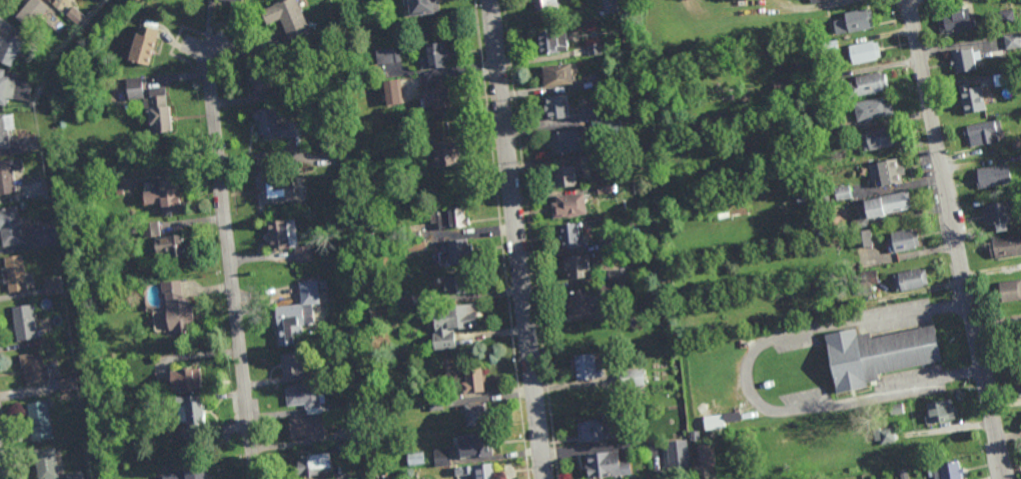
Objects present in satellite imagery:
building: (58, 0)
building: (232, 0)
building: (817, 1)
building: (546, 5)
building: (611, 7)
building: (424, 8)
building: (38, 15)
building: (75, 15)
building: (1008, 18)
building: (287, 19)
building: (854, 22)
building: (956, 22)
building: (1013, 41)
building: (552, 42)
building: (145, 43)
building: (831, 45)
building: (9, 48)
building: (595, 49)
building: (865, 52)
building: (437, 55)
building: (388, 56)
building: (965, 61)
building: (57, 64)
building: (558, 75)
building: (1001, 80)
building: (264, 84)
building: (867, 85)
building: (134, 87)
building: (784, 88)
building: (7, 89)
building: (40, 90)
building: (392, 93)
building: (439, 96)
building: (971, 99)
building: (558, 108)
building: (871, 108)
building: (599, 110)
building: (160, 112)
building: (274, 125)
building: (835, 126)
building: (605, 127)
building: (5, 129)
building: (984, 133)
building: (842, 136)
building: (879, 137)
building: (581, 139)
building: (563, 141)
building: (25, 144)
building: (1016, 144)
building: (402, 149)
building: (444, 154)
building: (602, 158)
building: (889, 170)
building: (8, 175)
building: (567, 175)
building: (994, 176)
building: (277, 186)
building: (605, 188)
building: (640, 188)
building: (119, 191)
building: (843, 192)
building: (824, 195)
building: (164, 197)
building: (799, 198)
building: (886, 203)
building: (569, 205)
building: (1001, 214)
building: (449, 216)
building: (859, 222)
building: (10, 226)
building: (153, 228)
building: (40, 229)
building: (57, 232)
building: (286, 236)
building: (570, 236)
building: (863, 238)
road: (516, 239)
road: (955, 239)
building: (902, 240)
building: (415, 244)
building: (172, 245)
building: (609, 245)
building: (1005, 247)
building: (456, 251)
building: (578, 266)
road: (230, 267)
building: (14, 273)
building: (616, 274)
building: (868, 277)
building: (909, 279)
building: (458, 282)
building: (52, 286)
building: (1010, 291)
building: (421, 298)
building: (593, 298)
building: (178, 307)
building: (296, 311)
building: (633, 321)
building: (24, 322)
building: (452, 323)
road: (997, 325)
building: (878, 353)
building: (1020, 354)
building: (291, 363)
building: (586, 366)
building: (33, 368)
building: (335, 372)
building: (467, 377)
building: (631, 377)
road: (746, 377)
building: (187, 379)
building: (67, 383)
building: (1019, 388)
building: (432, 394)
building: (302, 396)
building: (435, 405)
building: (340, 406)
building: (892, 409)
building: (939, 411)
building: (190, 412)
building: (476, 414)
building: (732, 416)
building: (39, 420)
building: (306, 427)
building: (596, 429)
building: (363, 431)
building: (694, 435)
building: (884, 435)
building: (636, 436)
building: (193, 443)
building: (481, 444)
building: (342, 449)
building: (675, 454)
building: (705, 454)
building: (441, 457)
building: (414, 458)
building: (46, 464)
building: (312, 464)
building: (603, 464)
building: (481, 470)
building: (946, 470)
building: (186, 472)
building: (903, 473)
building: (74, 475)

